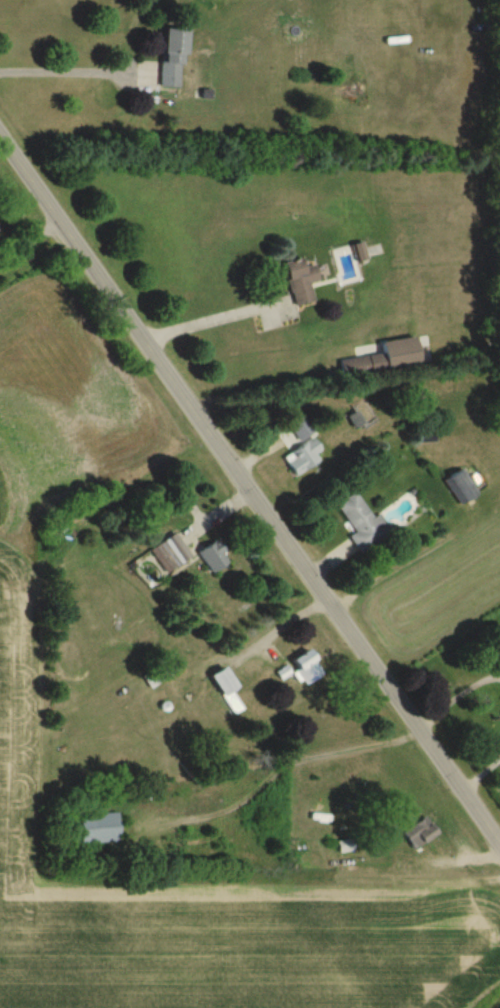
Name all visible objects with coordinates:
building: (172, 57)
road: (57, 74)
road: (28, 237)
building: (300, 280)
road: (206, 322)
building: (362, 365)
building: (358, 414)
building: (303, 455)
building: (459, 486)
road: (249, 492)
building: (362, 522)
building: (169, 551)
building: (213, 555)
crop: (441, 589)
building: (305, 667)
building: (225, 687)
road: (454, 696)
road: (479, 773)
building: (97, 827)
building: (418, 832)
building: (344, 844)
crop: (214, 914)

